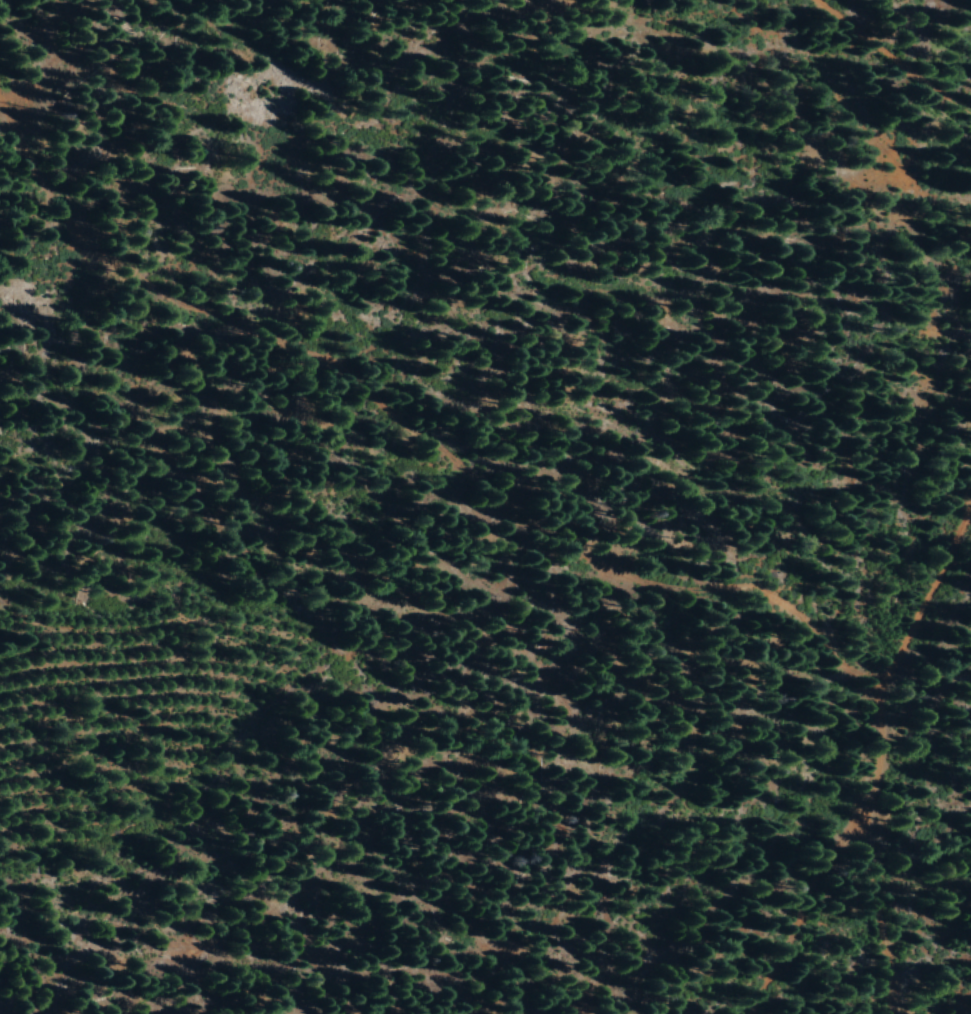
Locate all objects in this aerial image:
road: (890, 58)
road: (917, 824)

